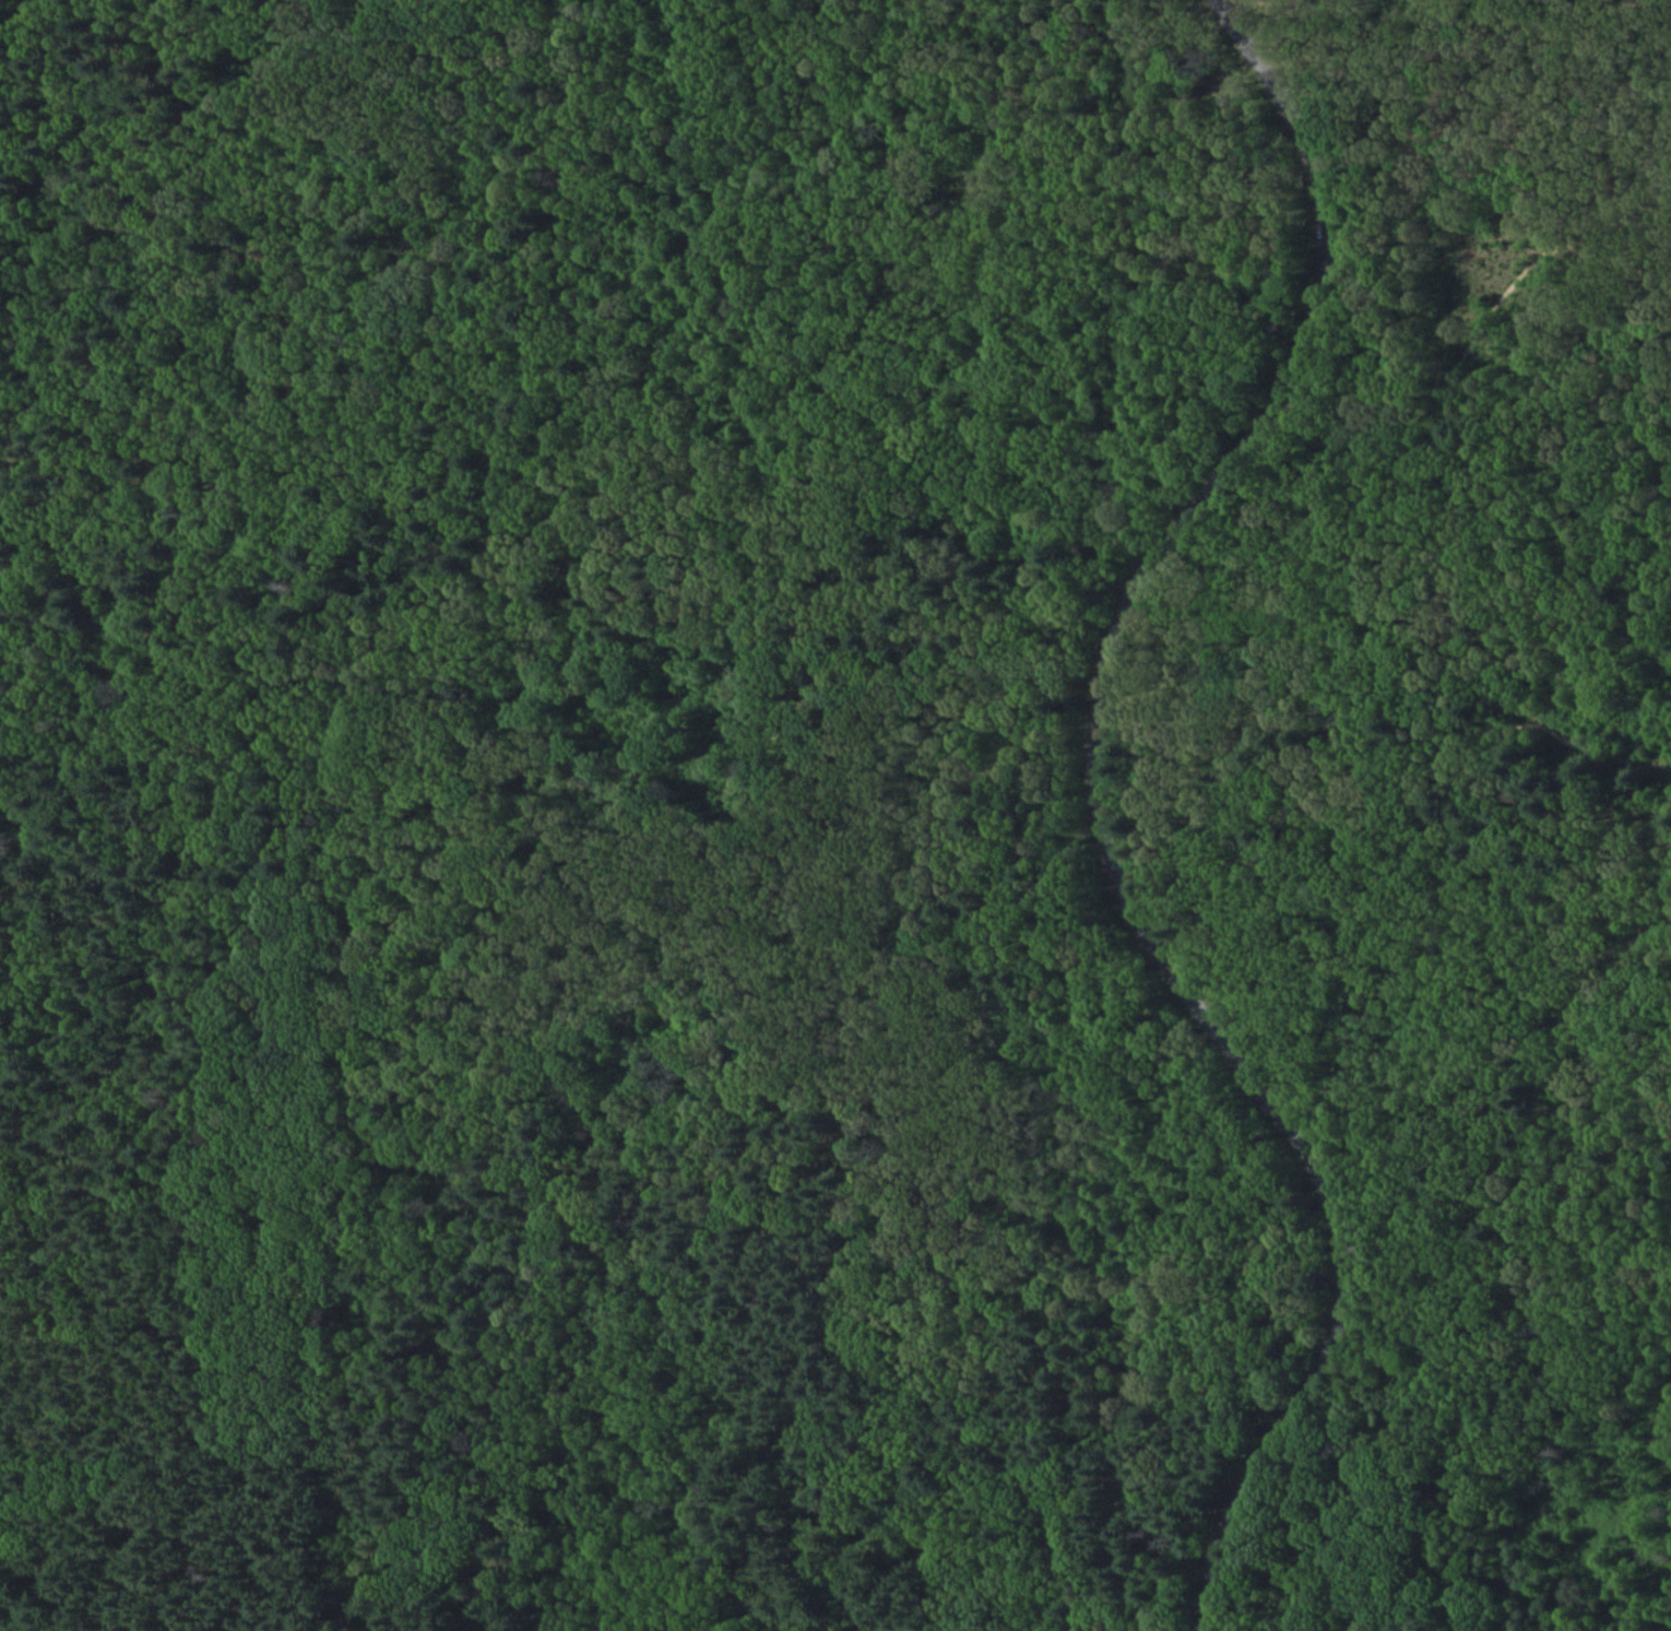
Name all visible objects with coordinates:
road: (1621, 11)
road: (1652, 11)
road: (1555, 154)
road: (1402, 569)
road: (1100, 820)

